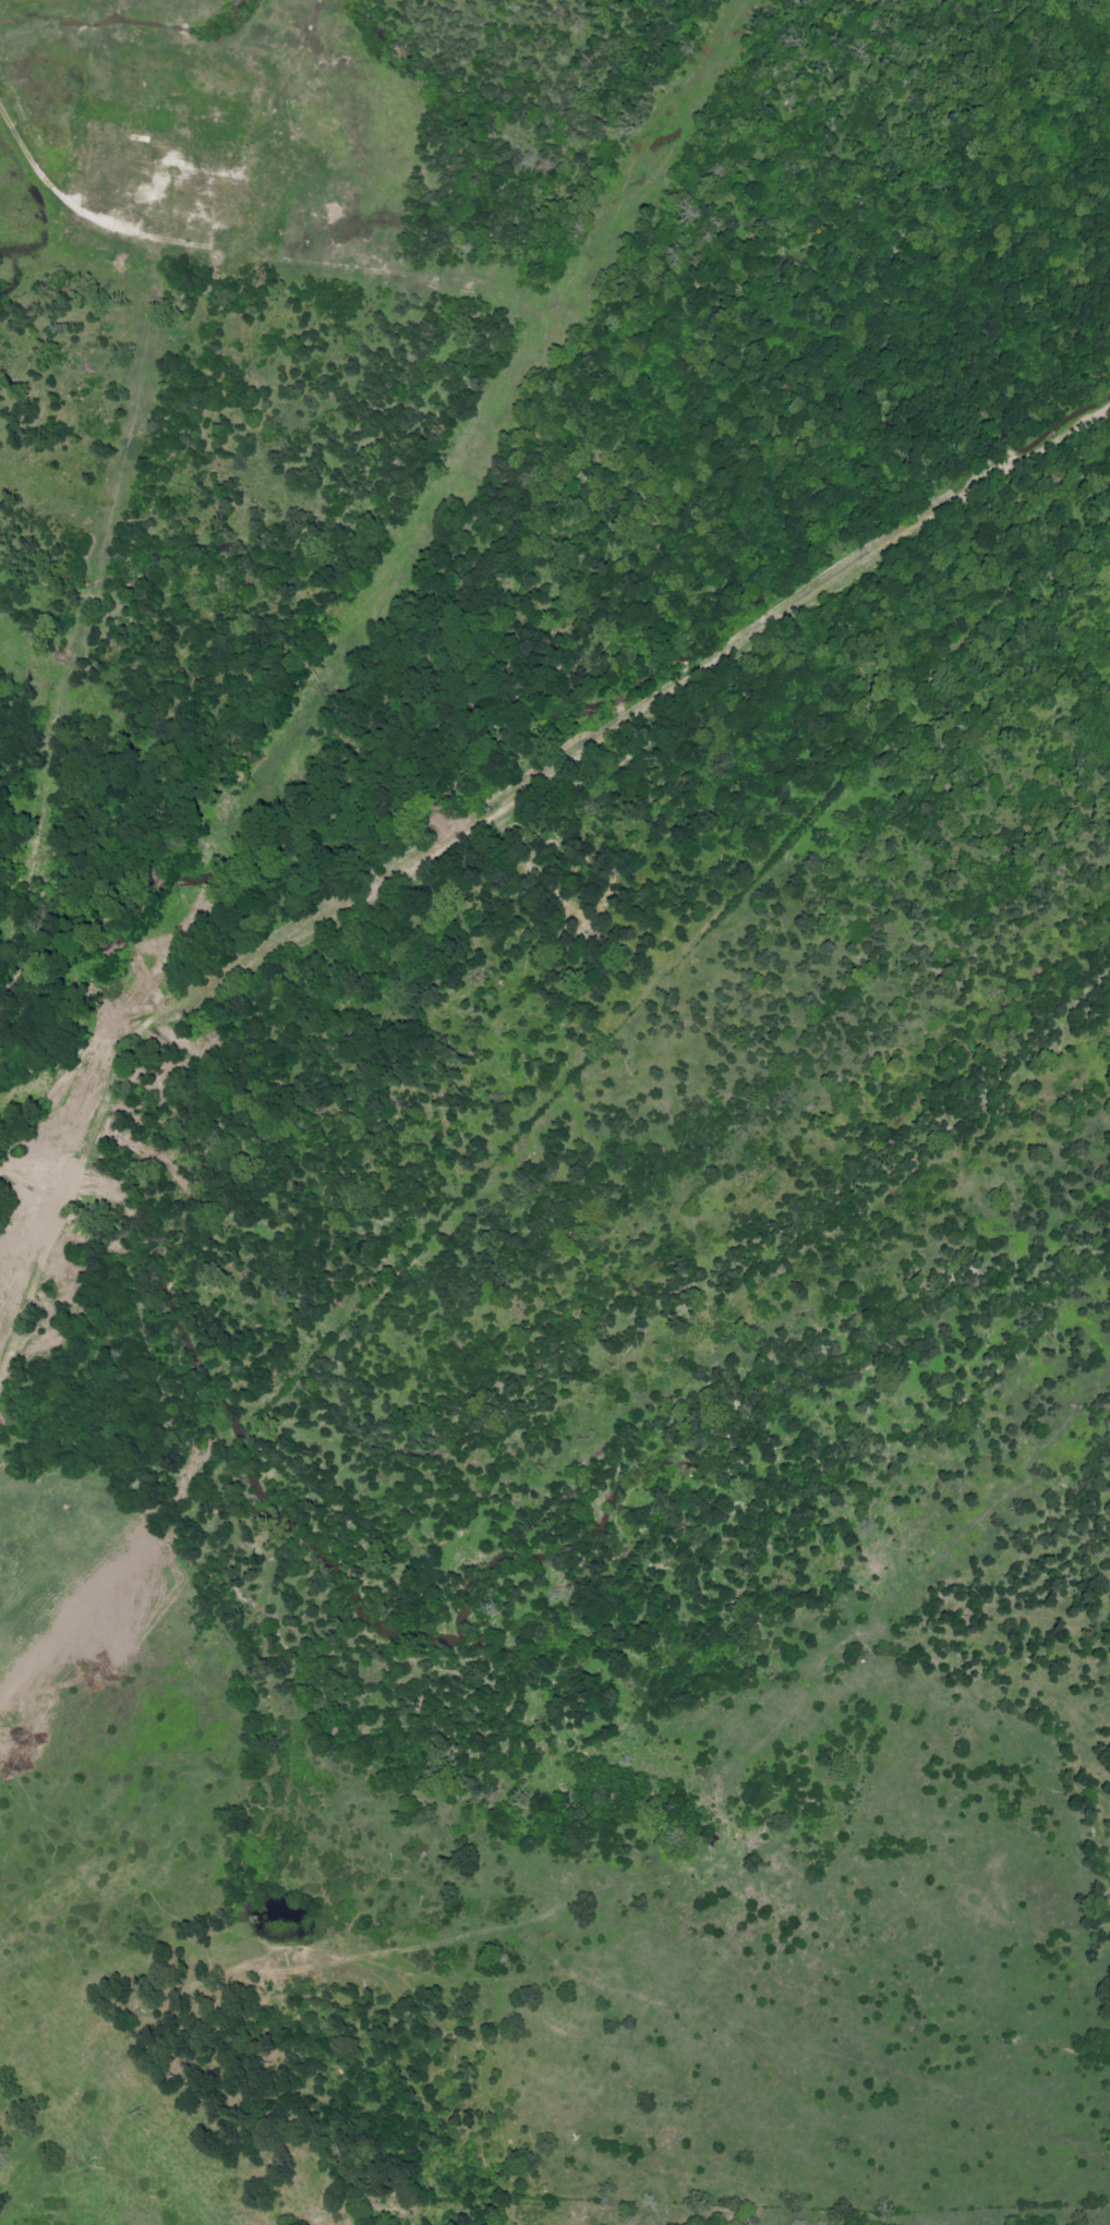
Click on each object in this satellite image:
power tower: (142, 2116)

